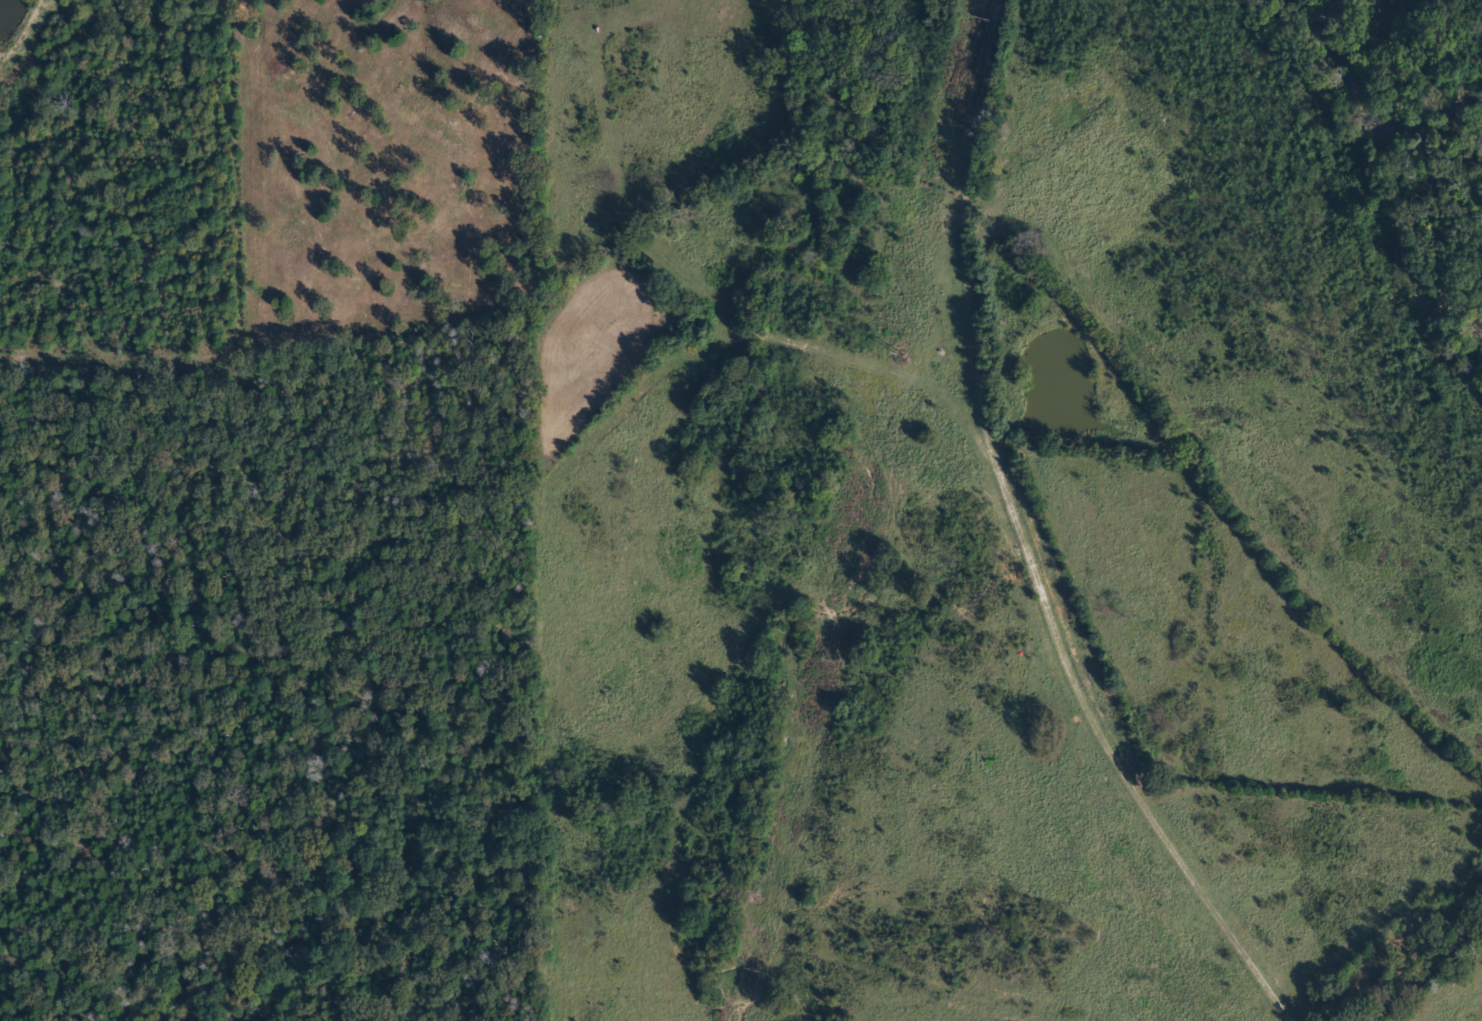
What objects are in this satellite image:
power tower: (899, 359)
road: (1410, 972)

